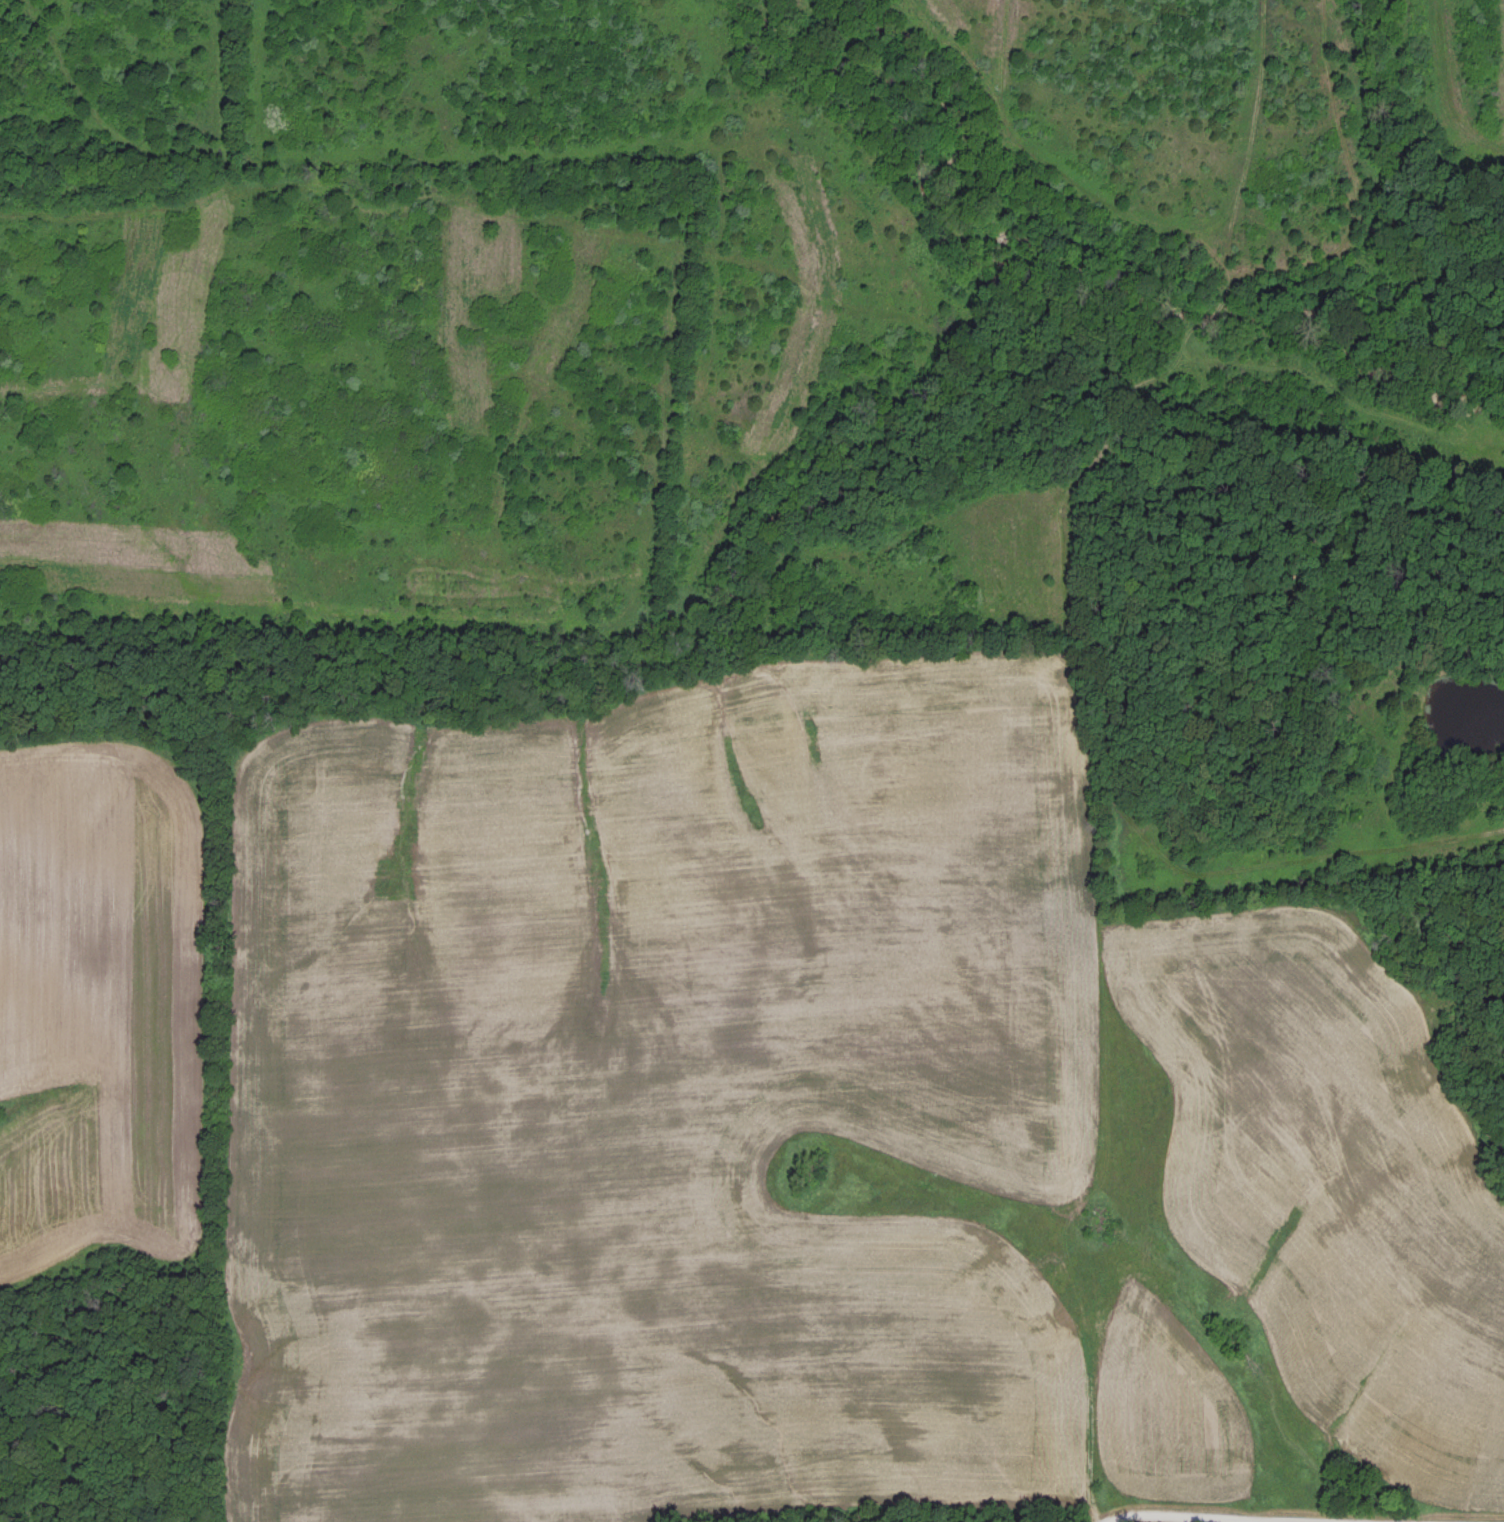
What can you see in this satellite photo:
road: (1224, 1518)

